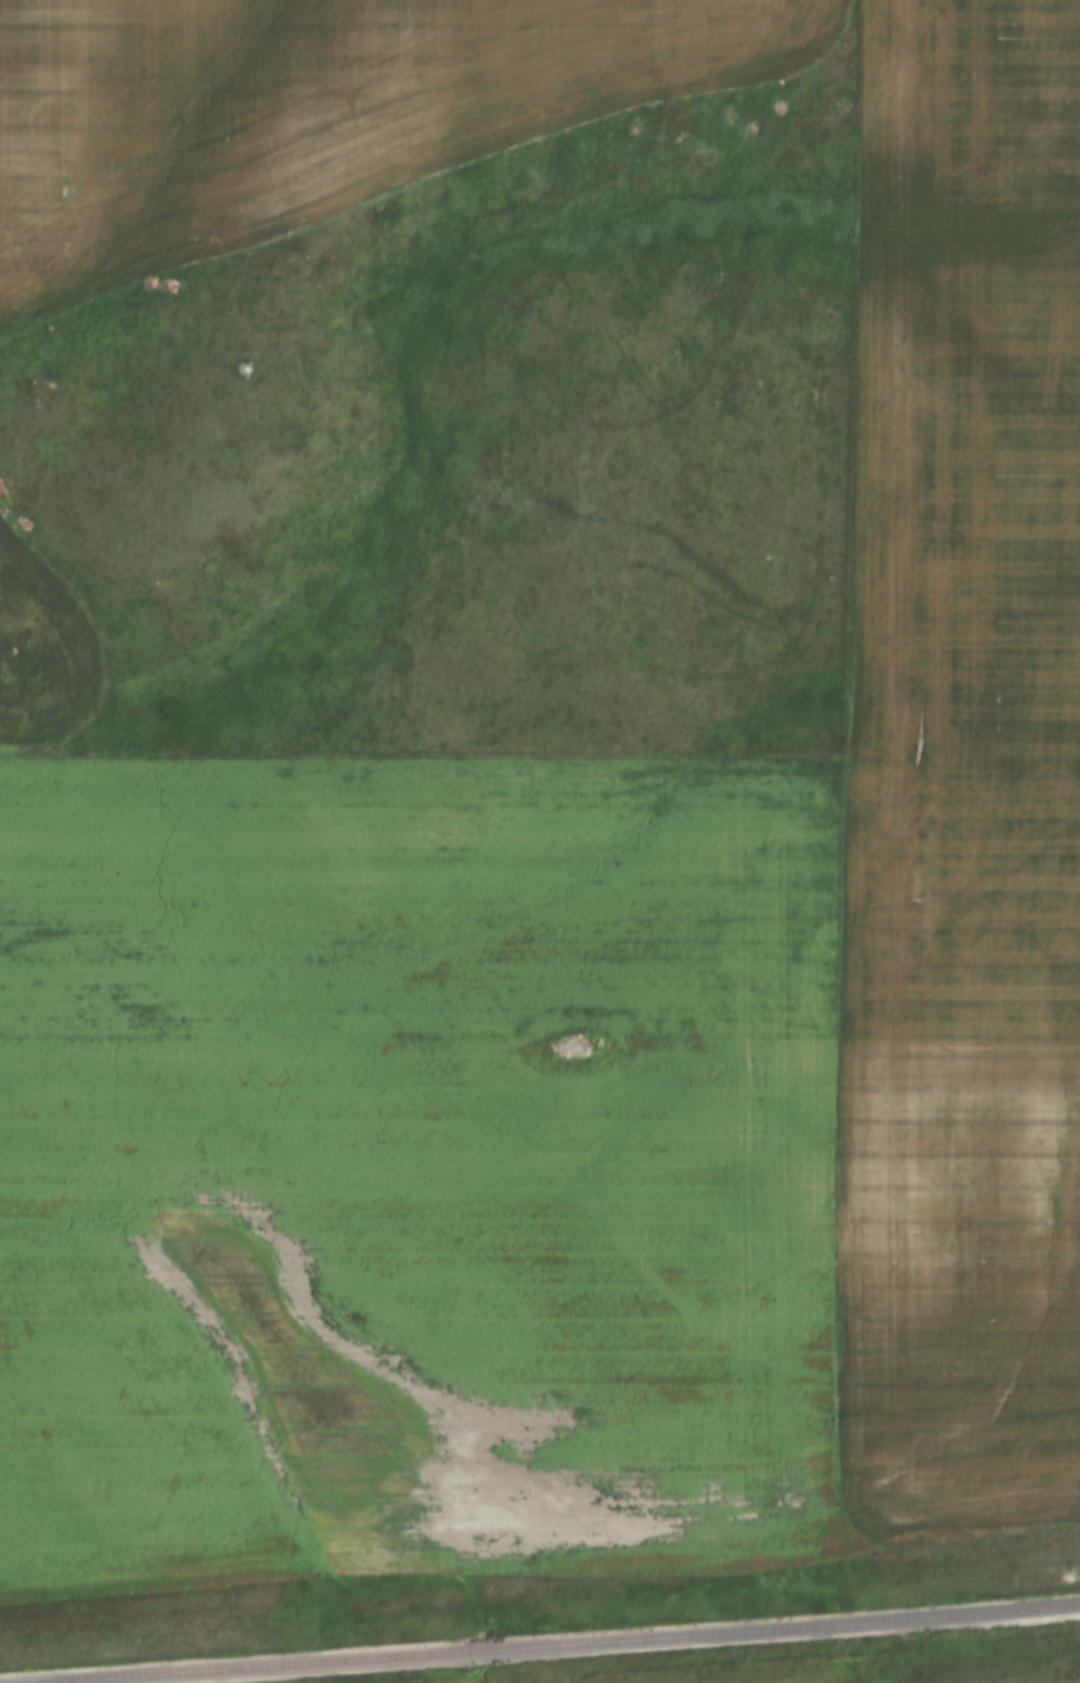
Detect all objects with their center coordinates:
railway: (540, 1643)

